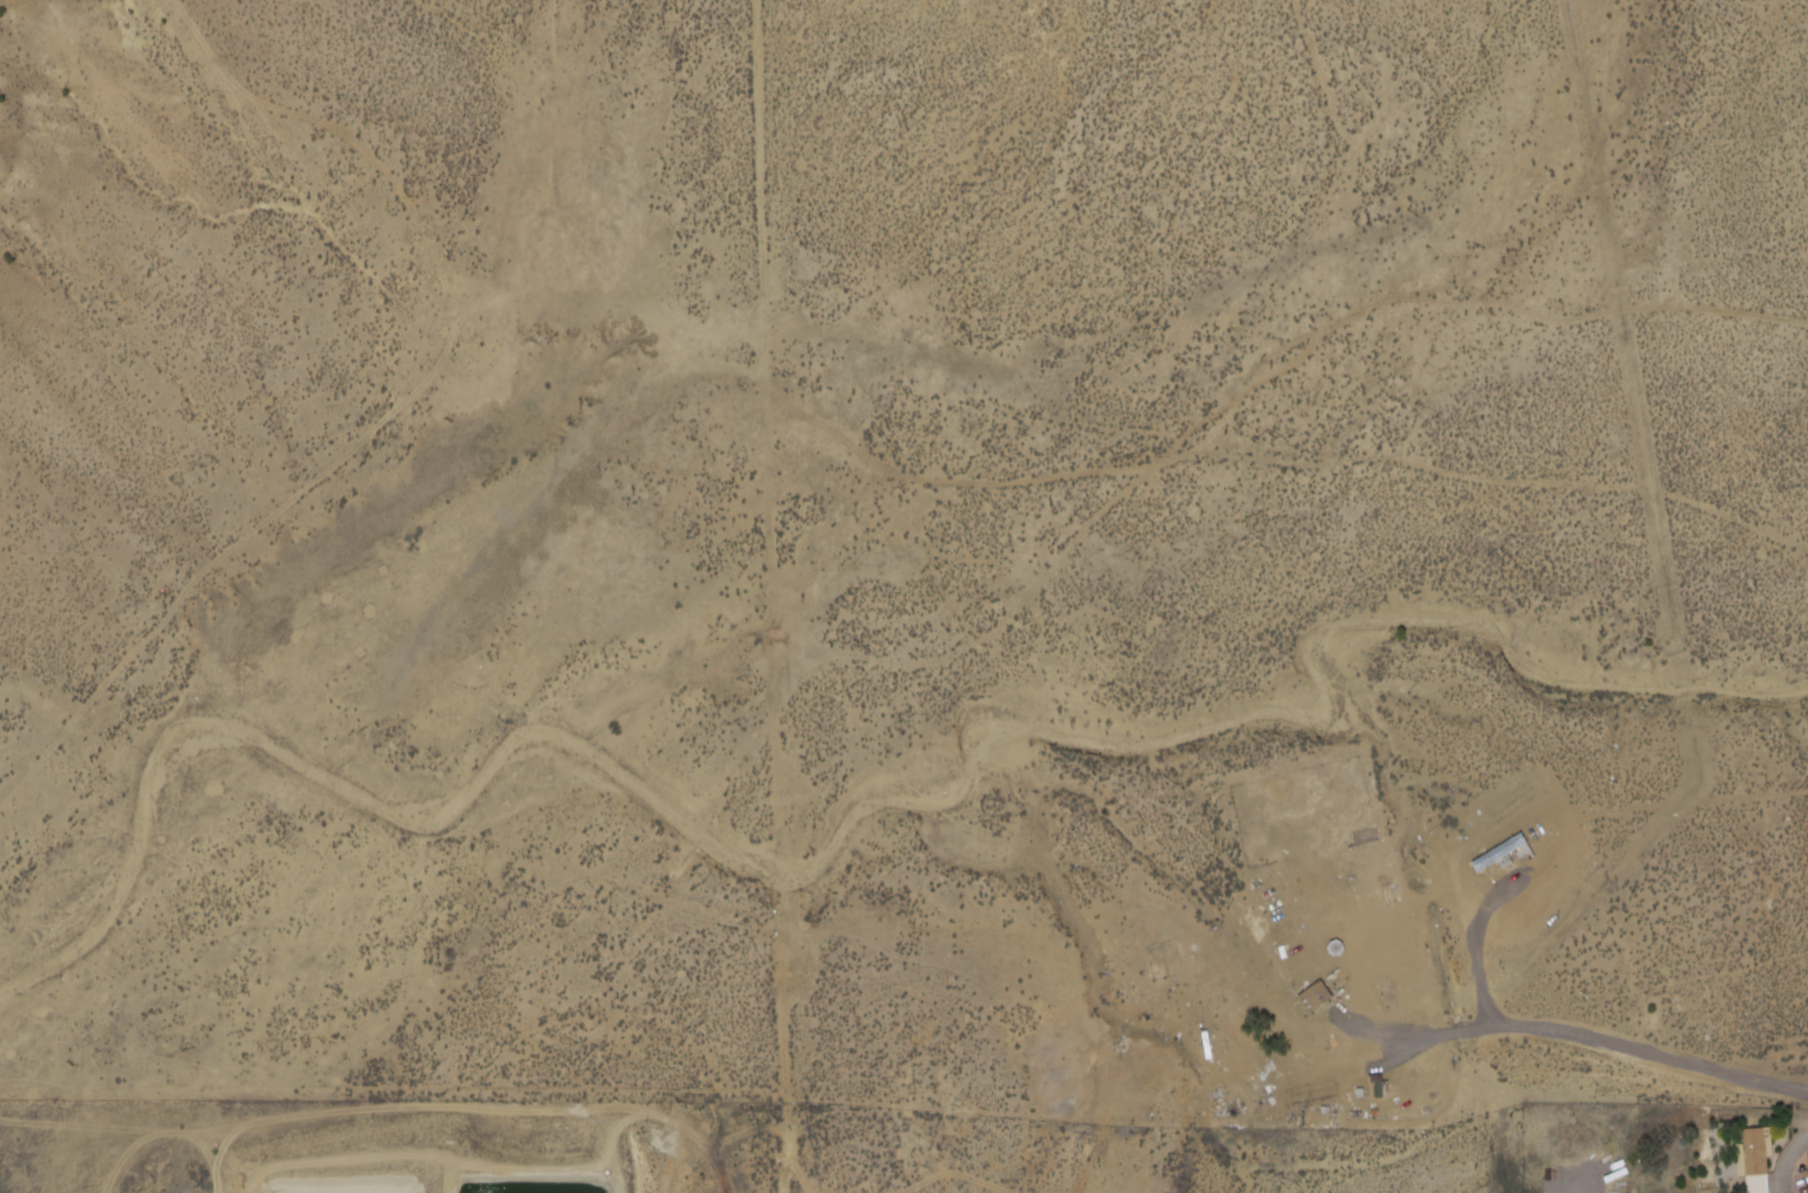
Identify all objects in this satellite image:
building: (1505, 852)
building: (1316, 994)
road: (1469, 1034)
road: (1667, 1069)
building: (1757, 1157)

